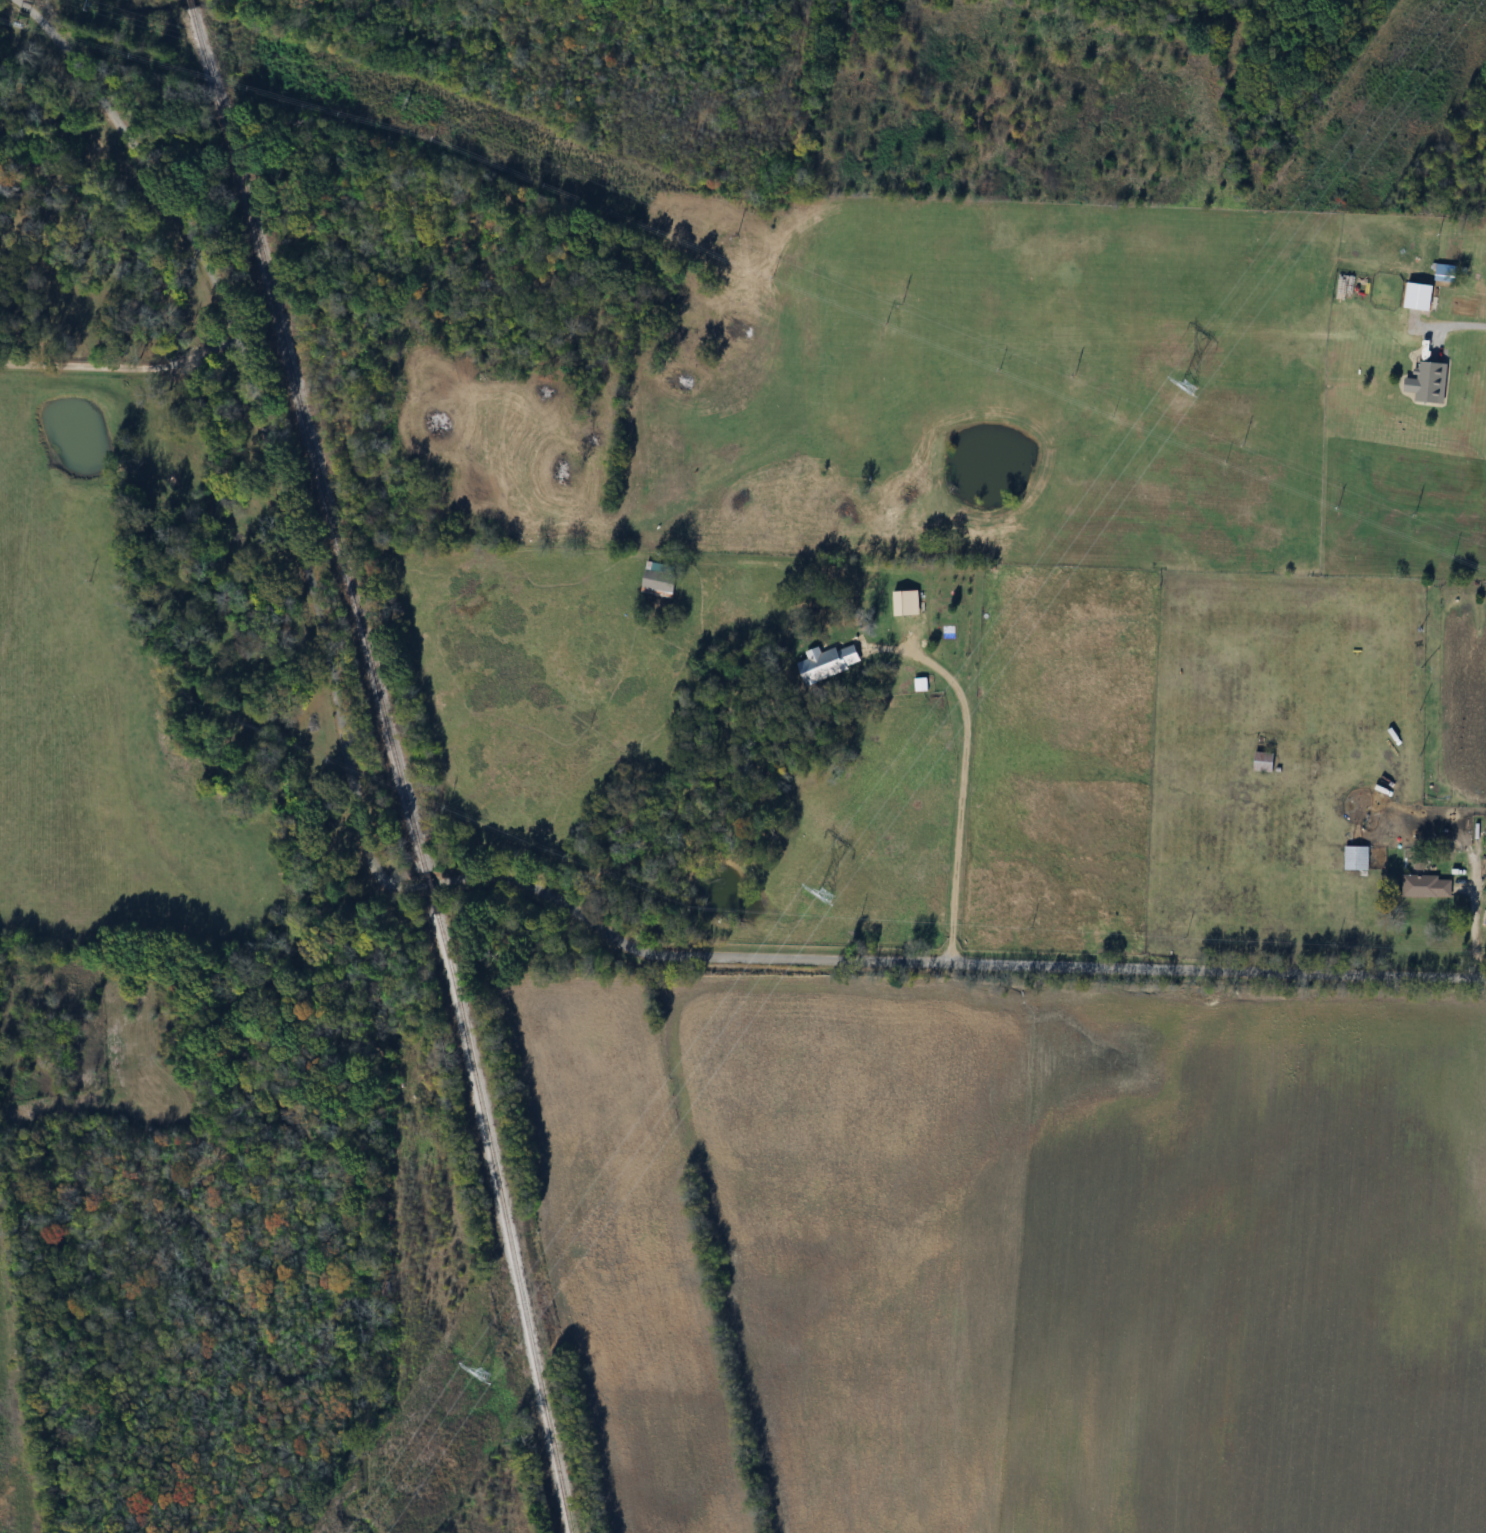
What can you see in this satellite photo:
road: (1454, 324)
road: (108, 362)
building: (1431, 382)
power tower: (1187, 387)
railway: (303, 435)
road: (260, 549)
building: (819, 664)
building: (1264, 761)
road: (963, 792)
building: (1356, 858)
building: (1426, 886)
railway: (430, 893)
power tower: (823, 894)
road: (1473, 931)
road: (1057, 966)
railway: (503, 1223)
power tower: (485, 1372)

